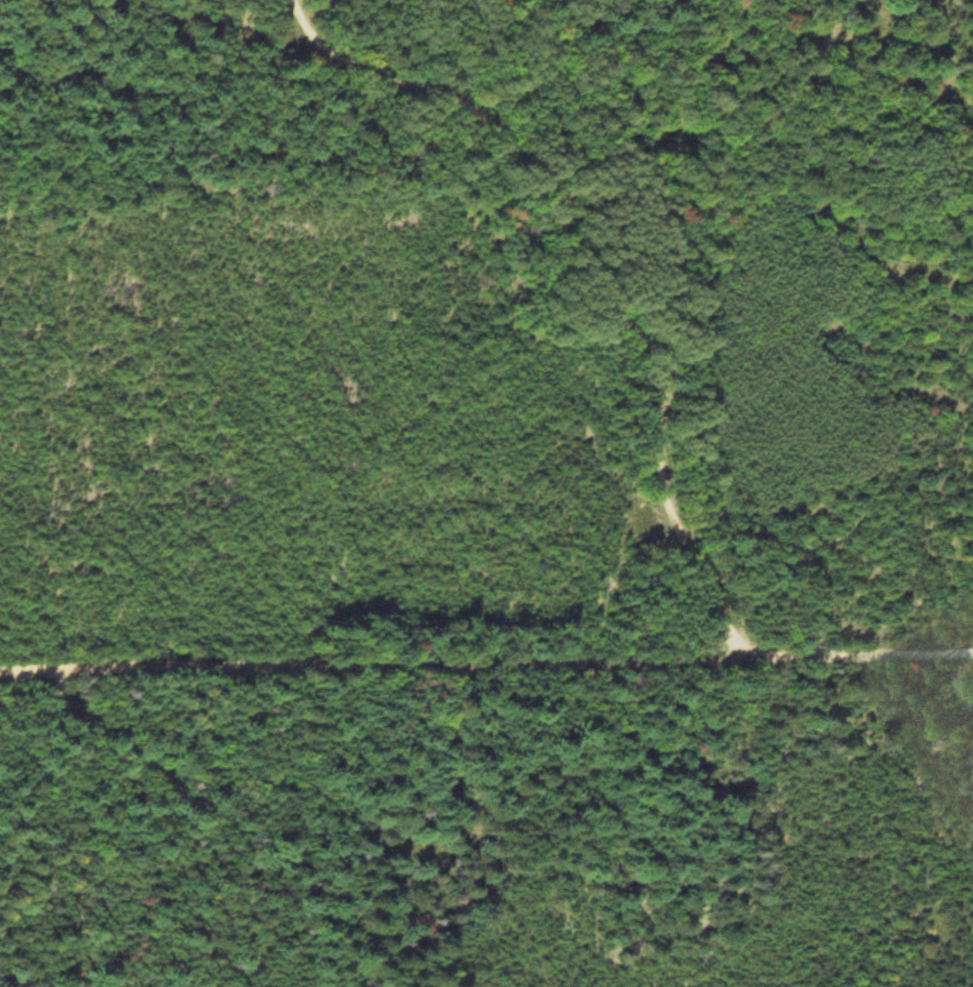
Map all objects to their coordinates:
road: (601, 277)
road: (486, 665)

